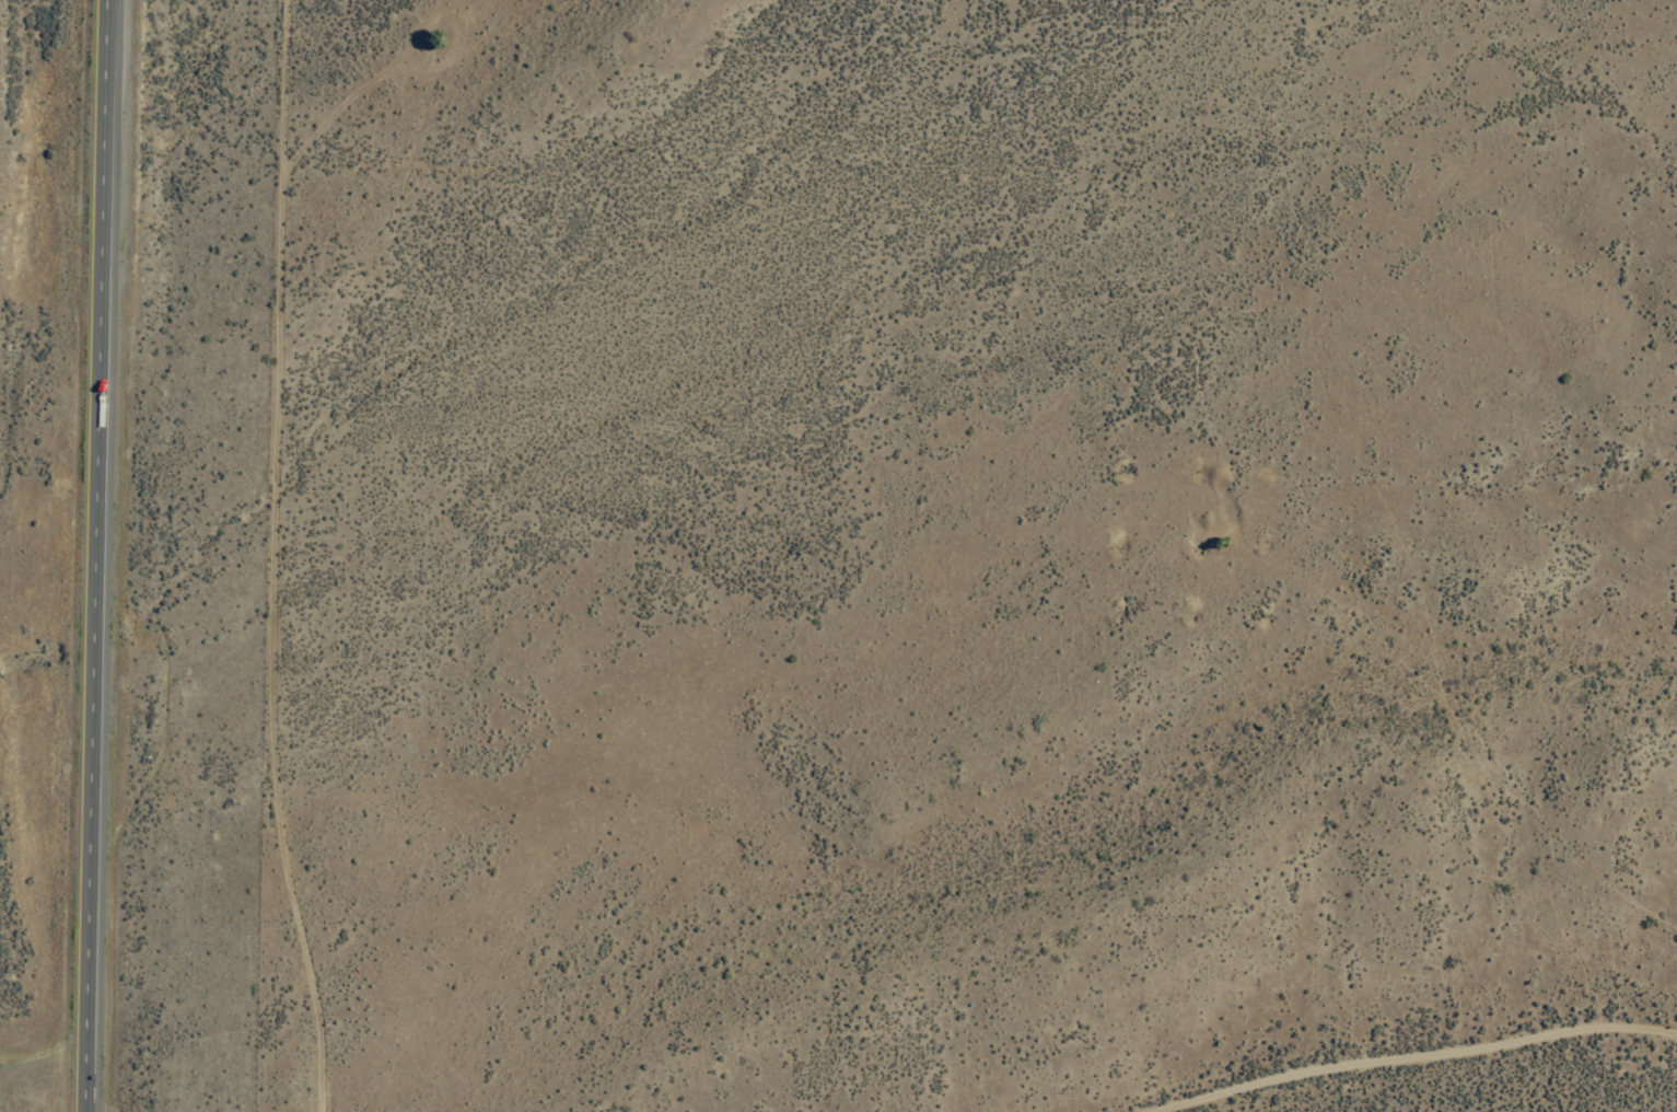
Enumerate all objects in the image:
crop: (255, 345)
road: (96, 555)
road: (272, 557)
crop: (1525, 1059)
road: (1442, 1065)

